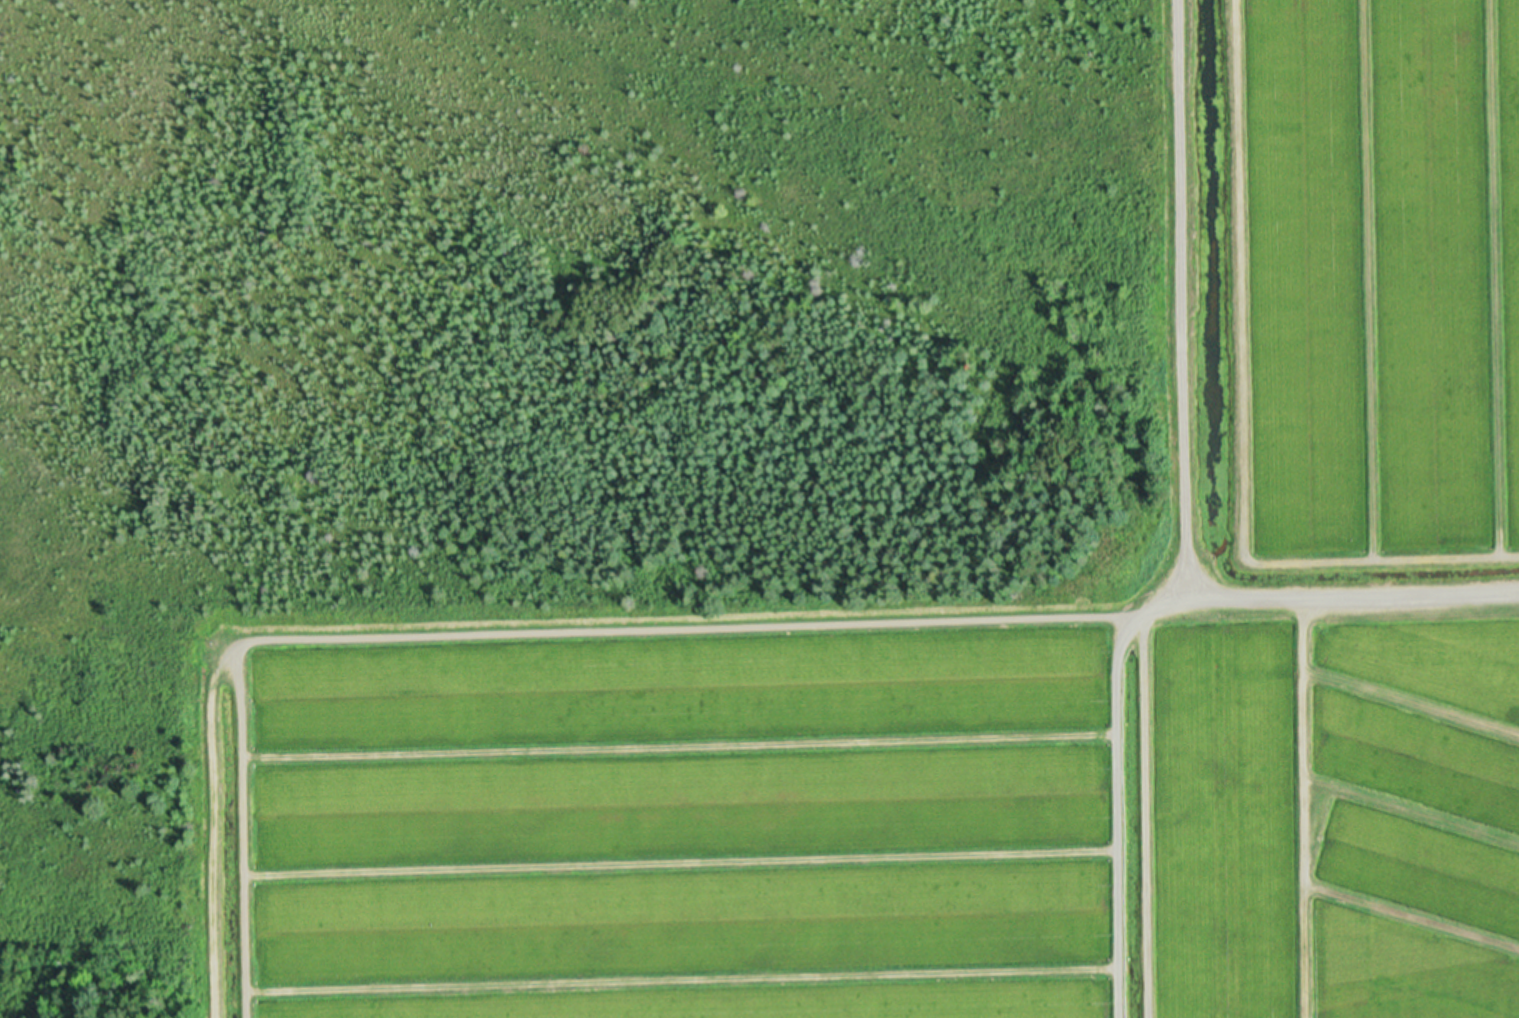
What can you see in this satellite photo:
crop: (1013, 662)

